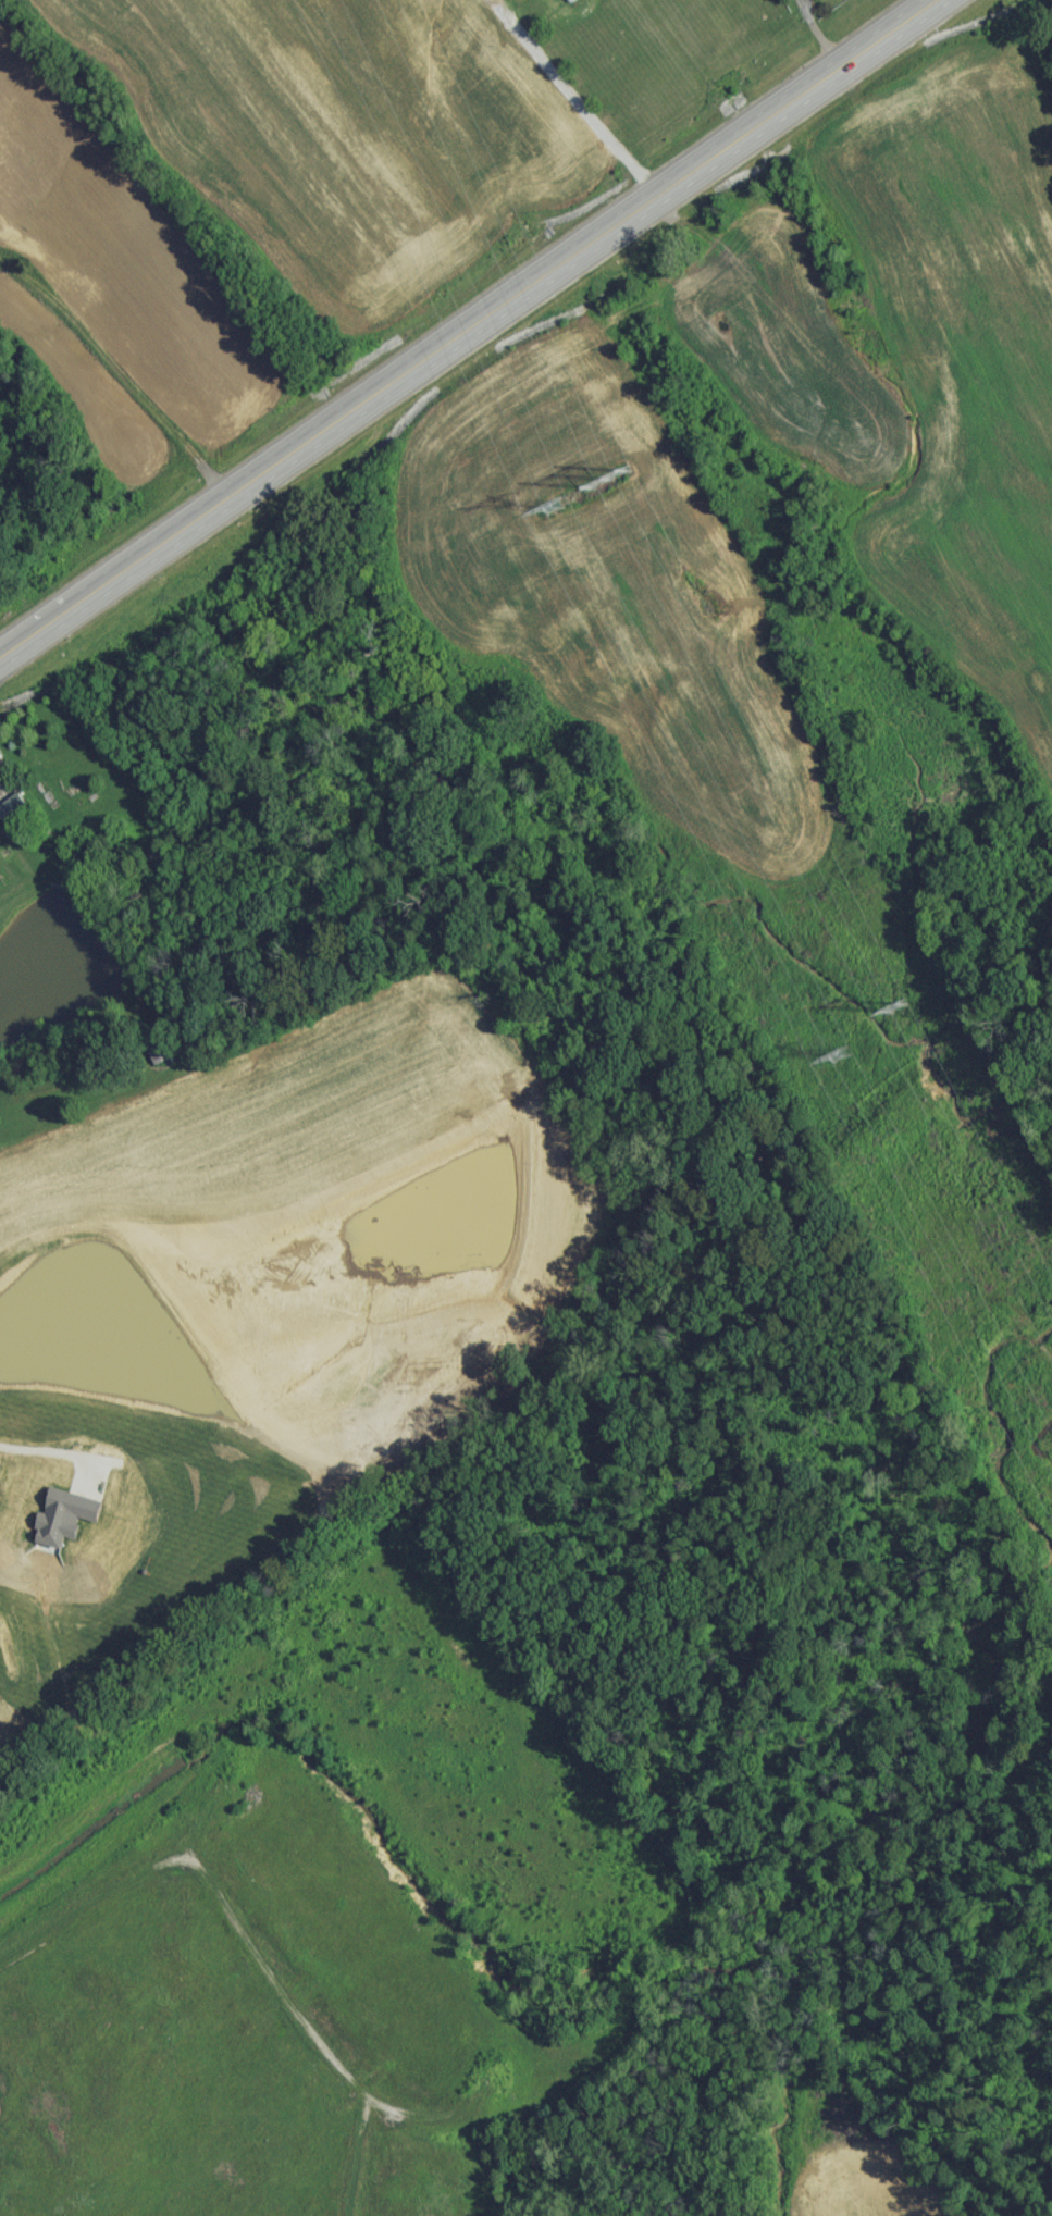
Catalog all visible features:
building: (578, 2)
road: (592, 123)
road: (469, 331)
power tower: (614, 485)
power tower: (557, 513)
building: (15, 816)
power tower: (901, 1015)
power tower: (847, 1062)

